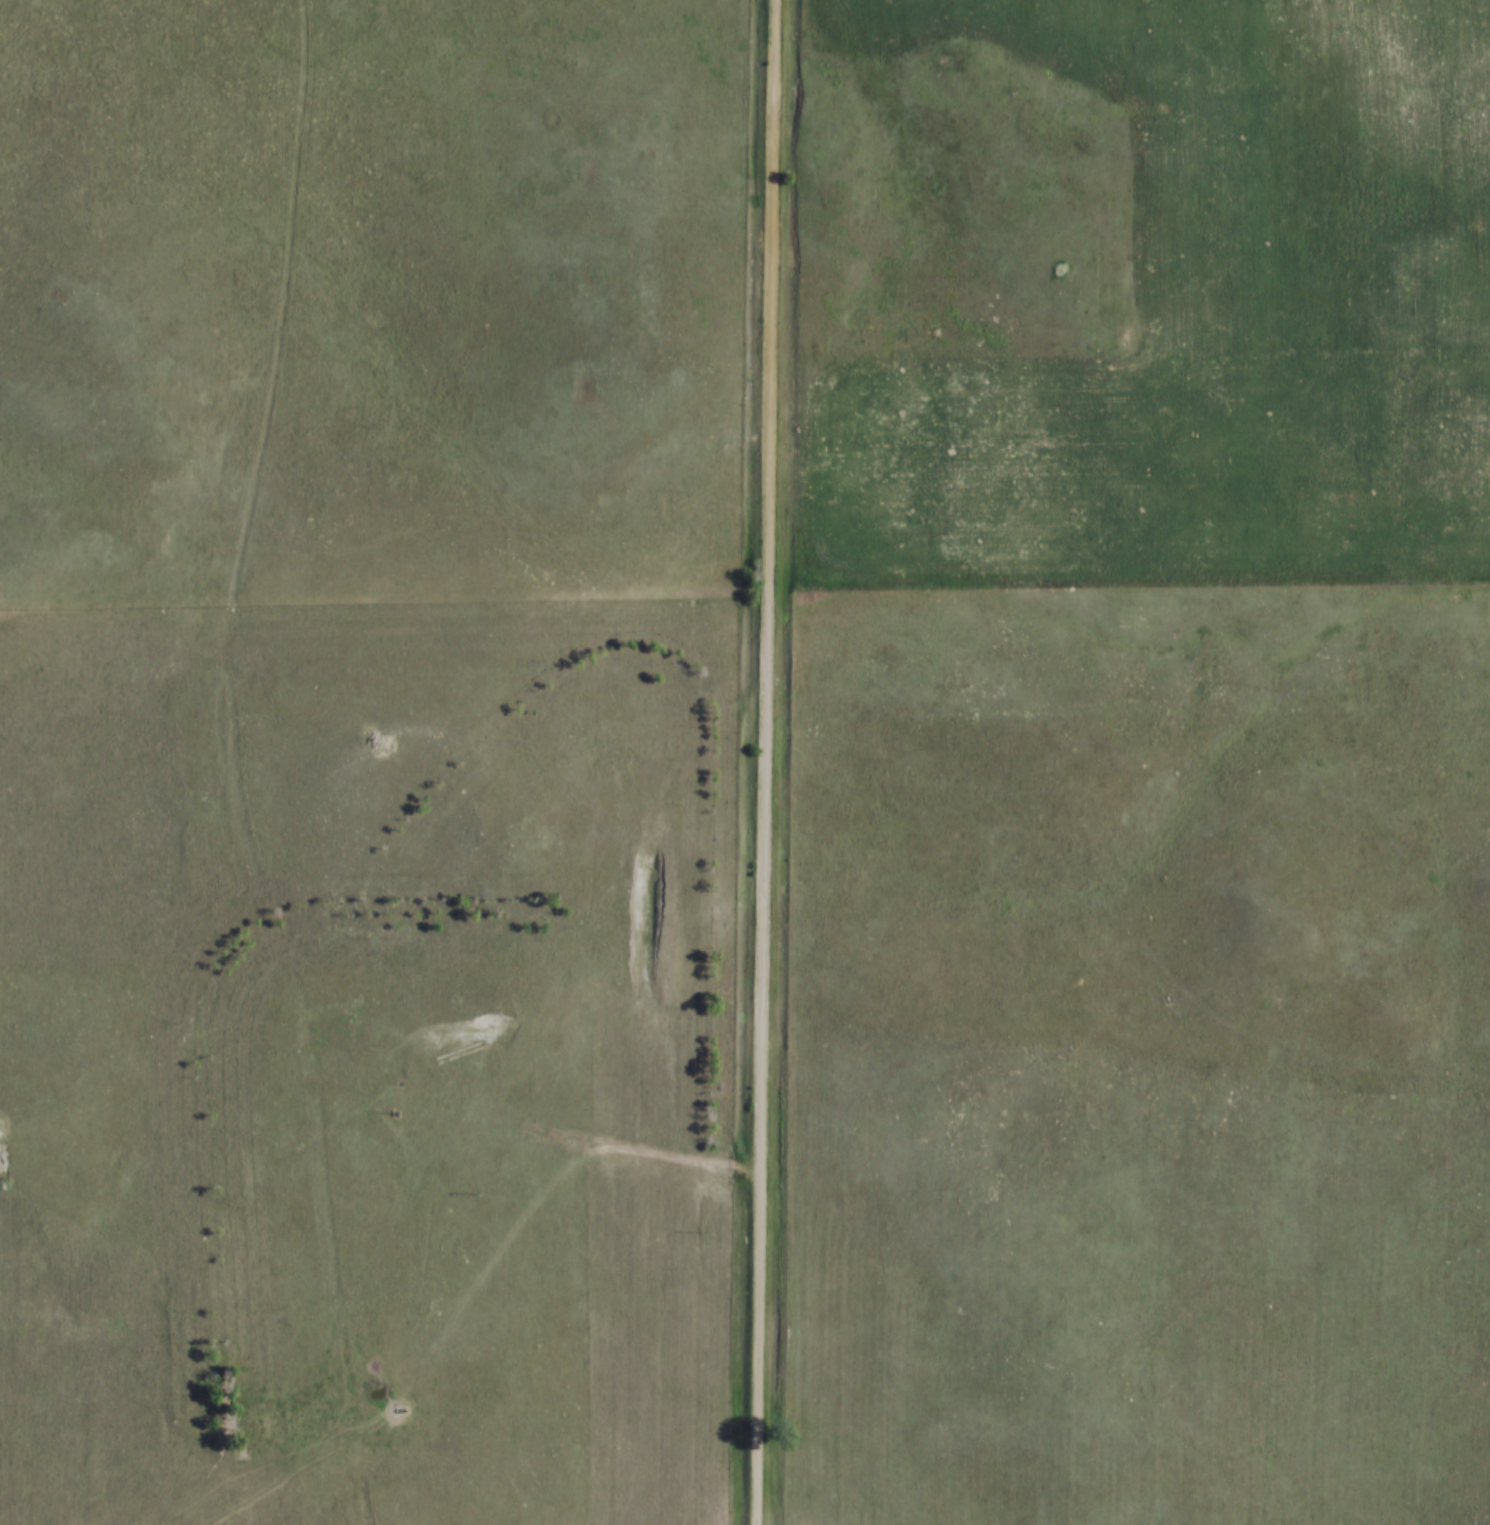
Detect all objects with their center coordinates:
road: (765, 762)

